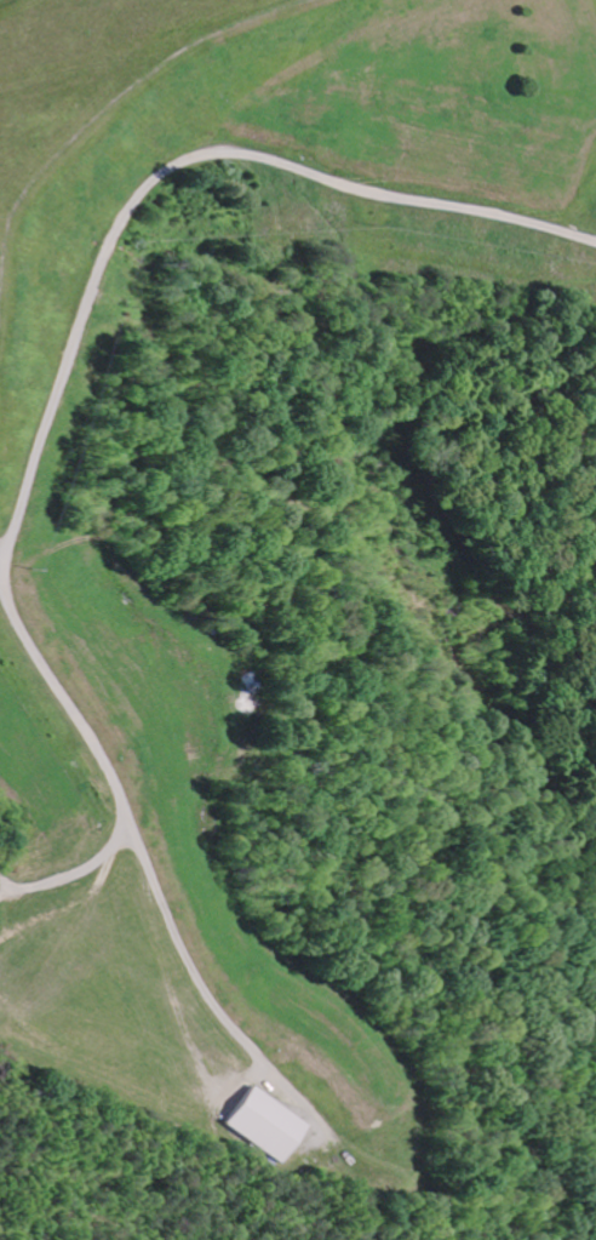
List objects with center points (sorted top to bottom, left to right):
airport runway: (88, 25)
road: (41, 453)
road: (2, 573)
road: (74, 873)
building: (265, 1127)

